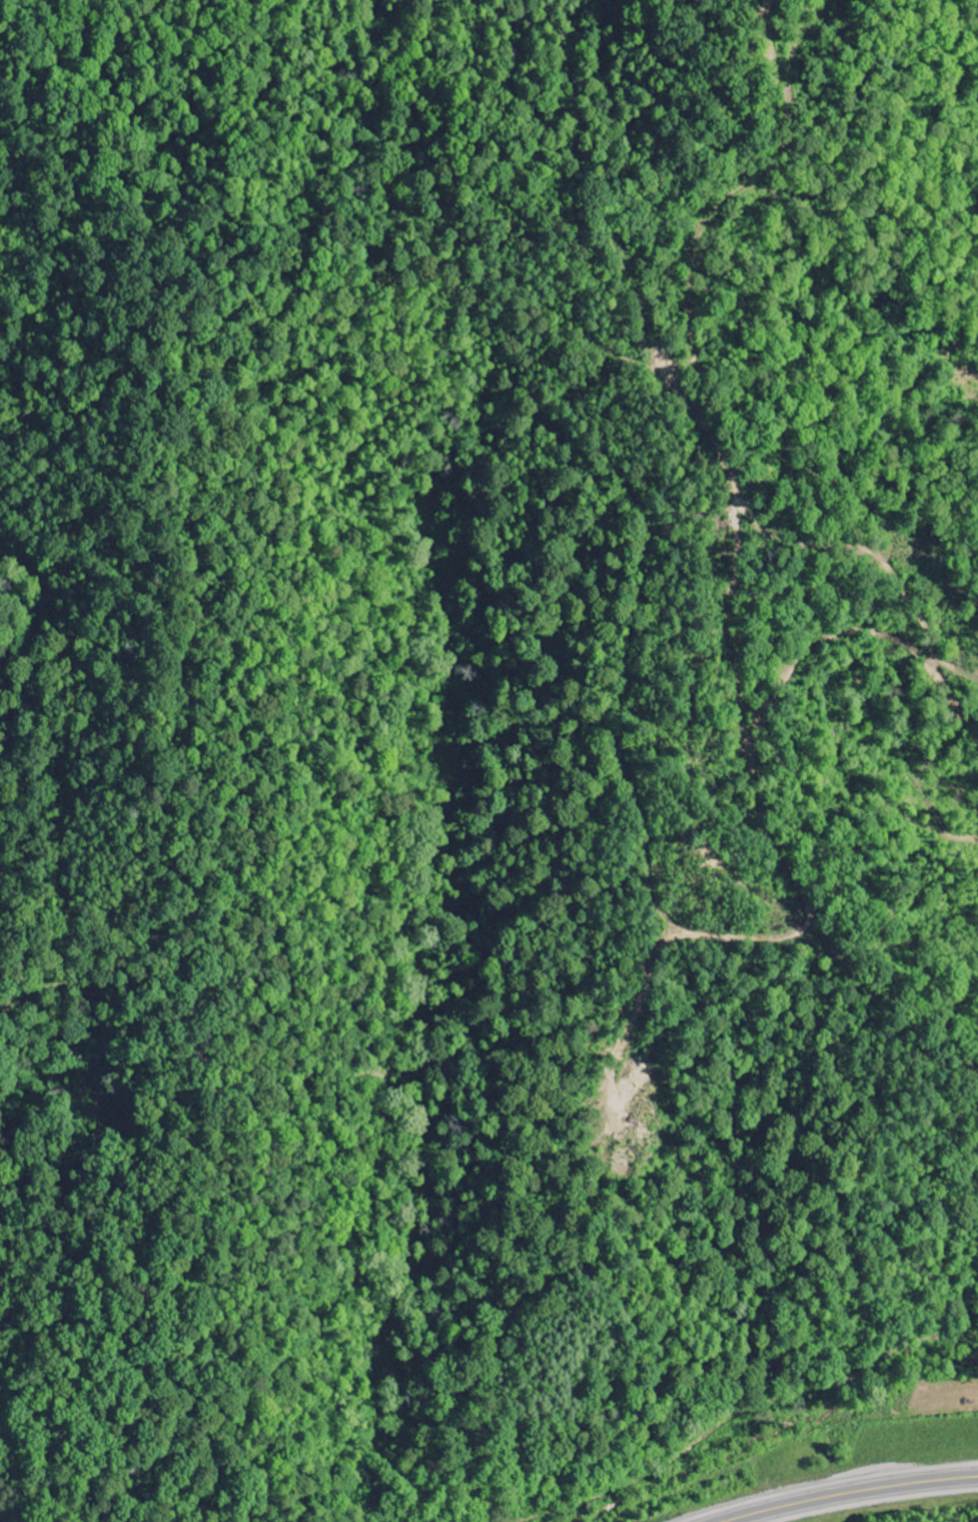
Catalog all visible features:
road: (847, 1492)

